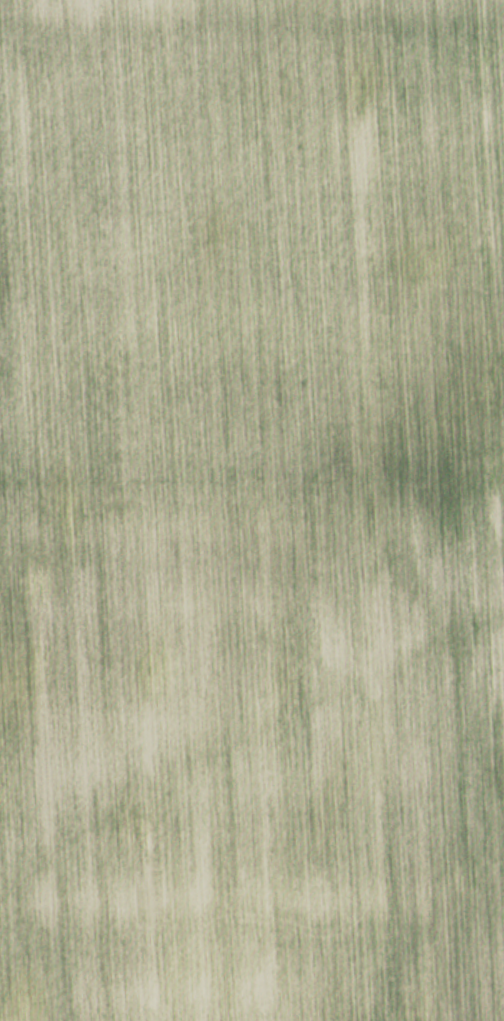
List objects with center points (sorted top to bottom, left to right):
crop: (252, 510)

